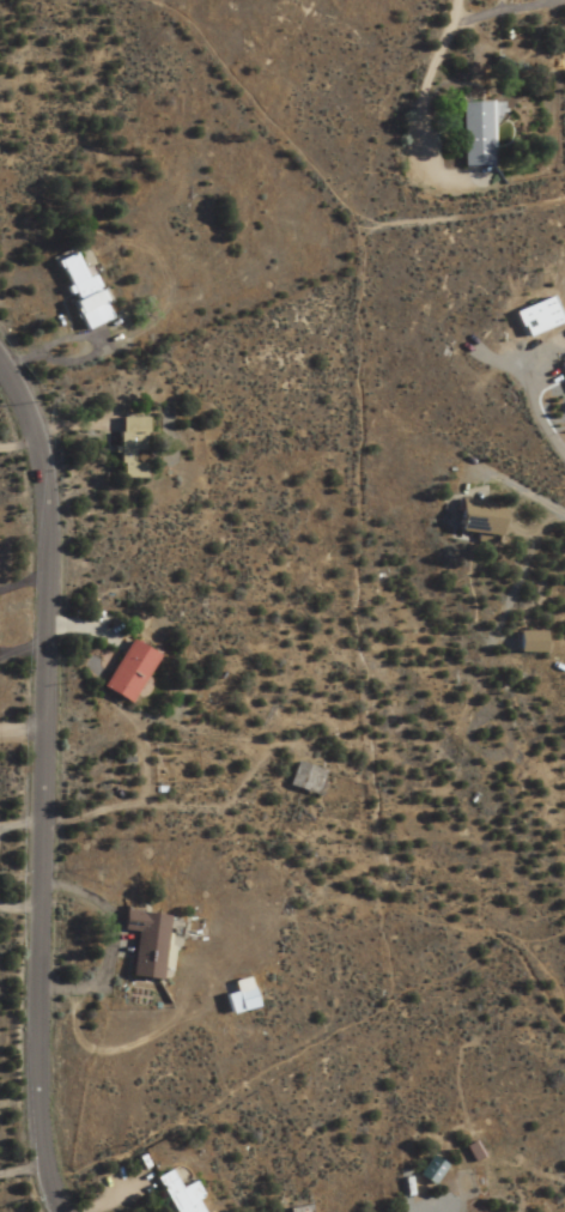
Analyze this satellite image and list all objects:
road: (425, 113)
building: (472, 134)
road: (329, 190)
building: (78, 290)
building: (563, 365)
road: (18, 448)
building: (128, 449)
building: (473, 517)
building: (527, 642)
building: (124, 671)
road: (357, 684)
building: (303, 778)
road: (45, 786)
road: (176, 805)
road: (531, 922)
building: (140, 943)
building: (238, 996)
road: (114, 1052)
road: (275, 1058)
building: (427, 1171)
building: (176, 1194)
building: (294, 1210)

